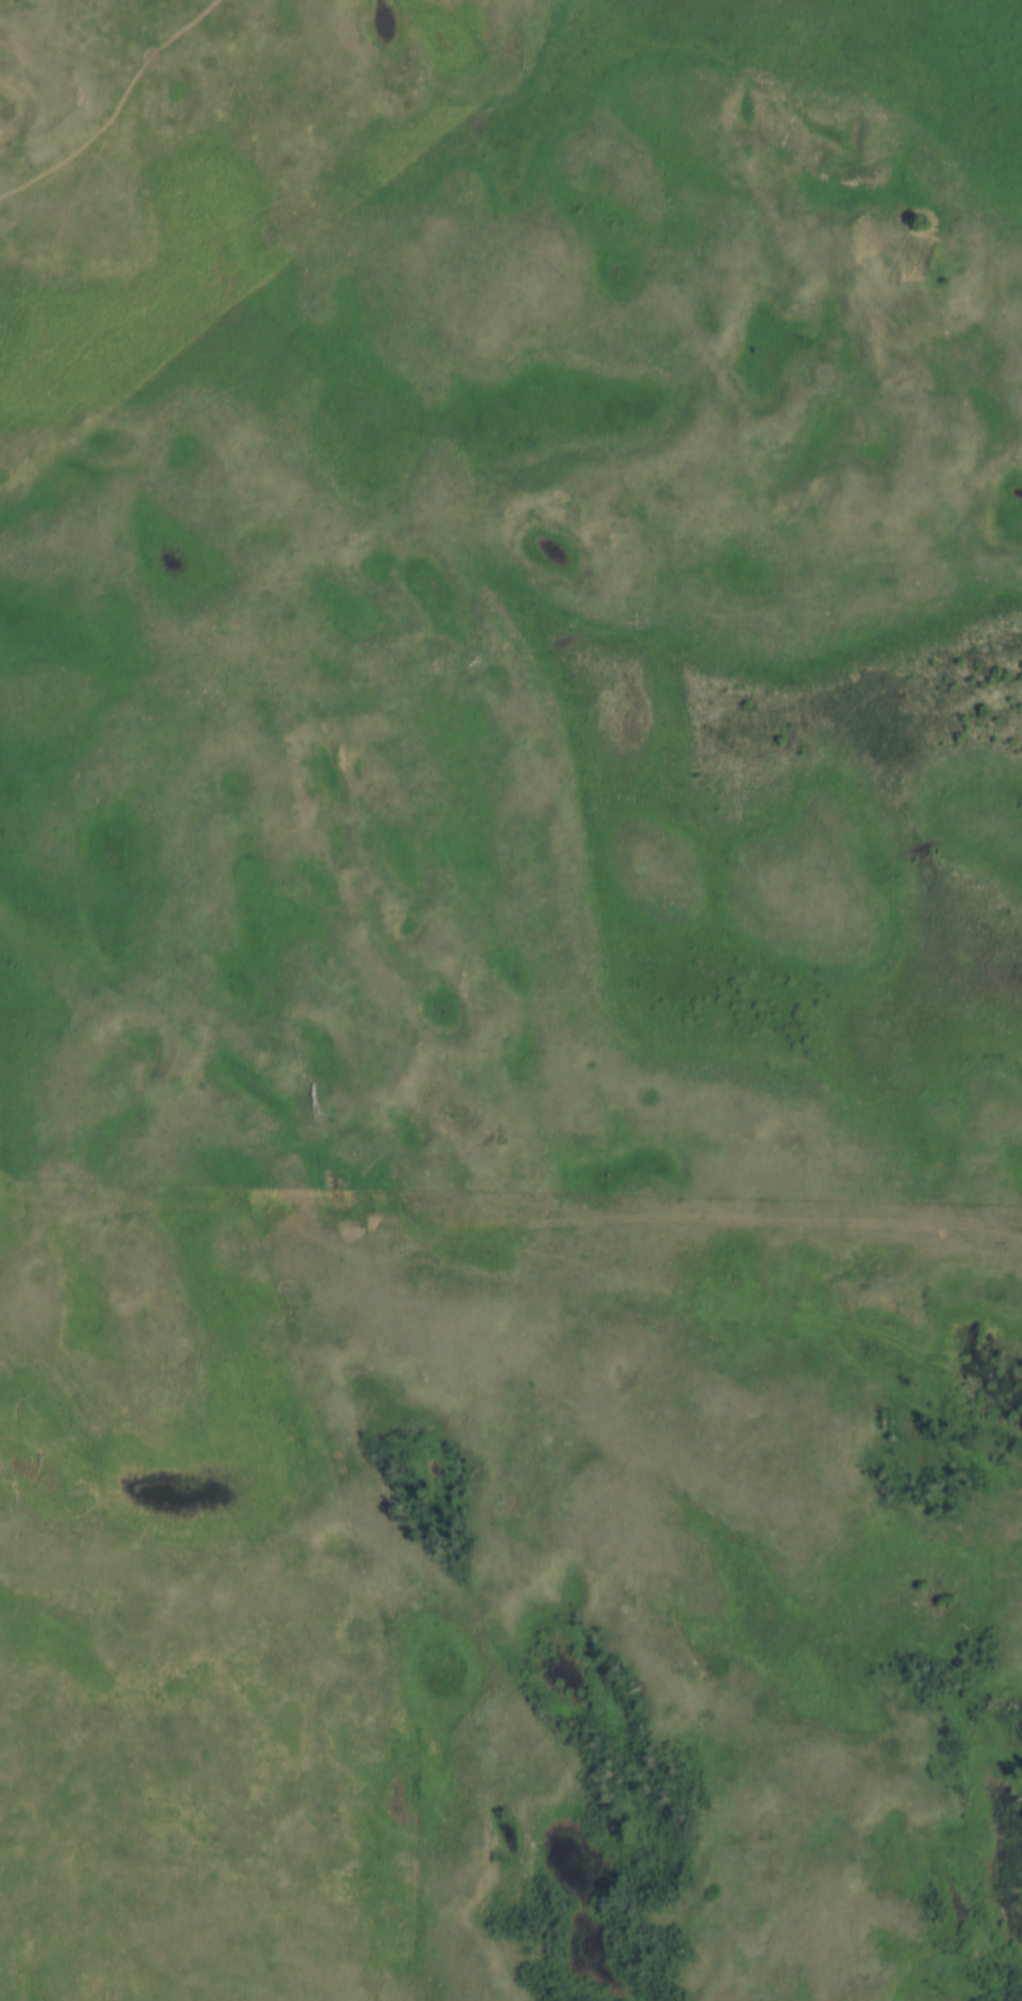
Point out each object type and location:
road: (113, 106)

